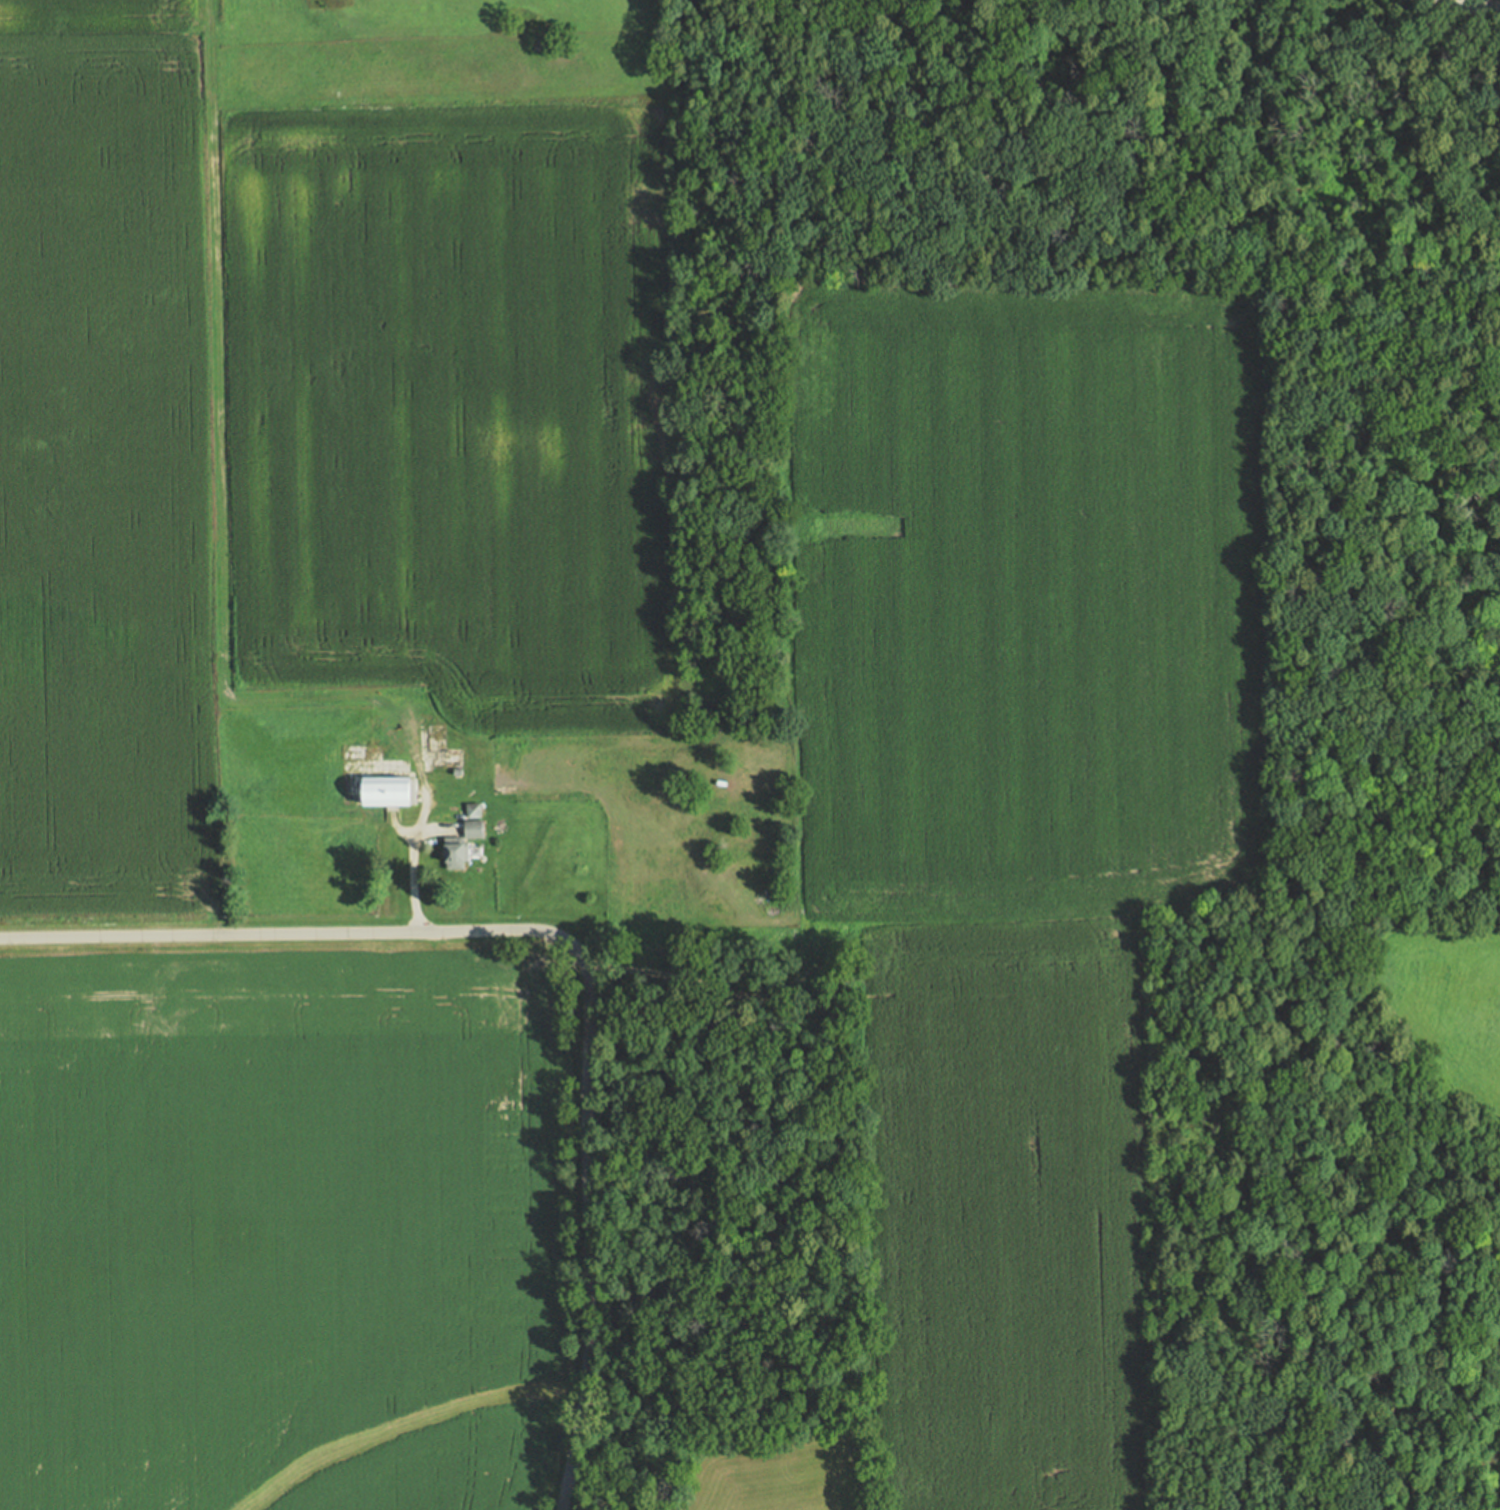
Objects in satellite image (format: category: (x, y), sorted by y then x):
road: (1464, 5)
road: (214, 458)
building: (452, 761)
building: (385, 792)
building: (470, 811)
building: (471, 829)
road: (414, 843)
building: (448, 853)
road: (569, 943)
road: (731, 991)

